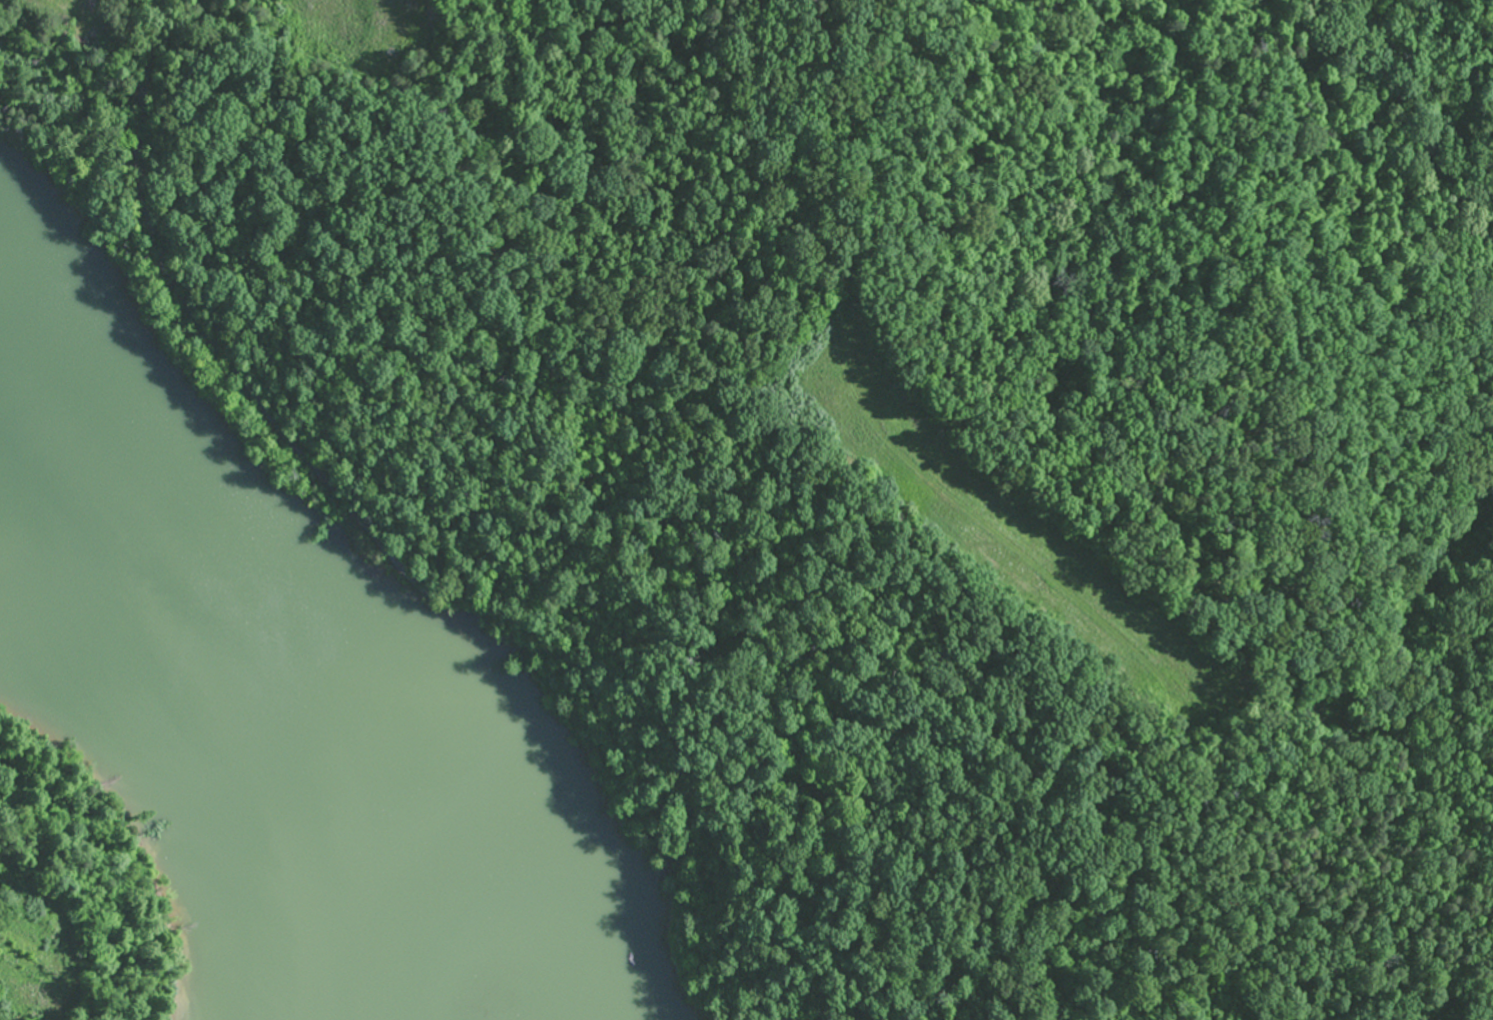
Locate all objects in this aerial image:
road: (159, 247)
park: (889, 447)
river: (262, 710)

